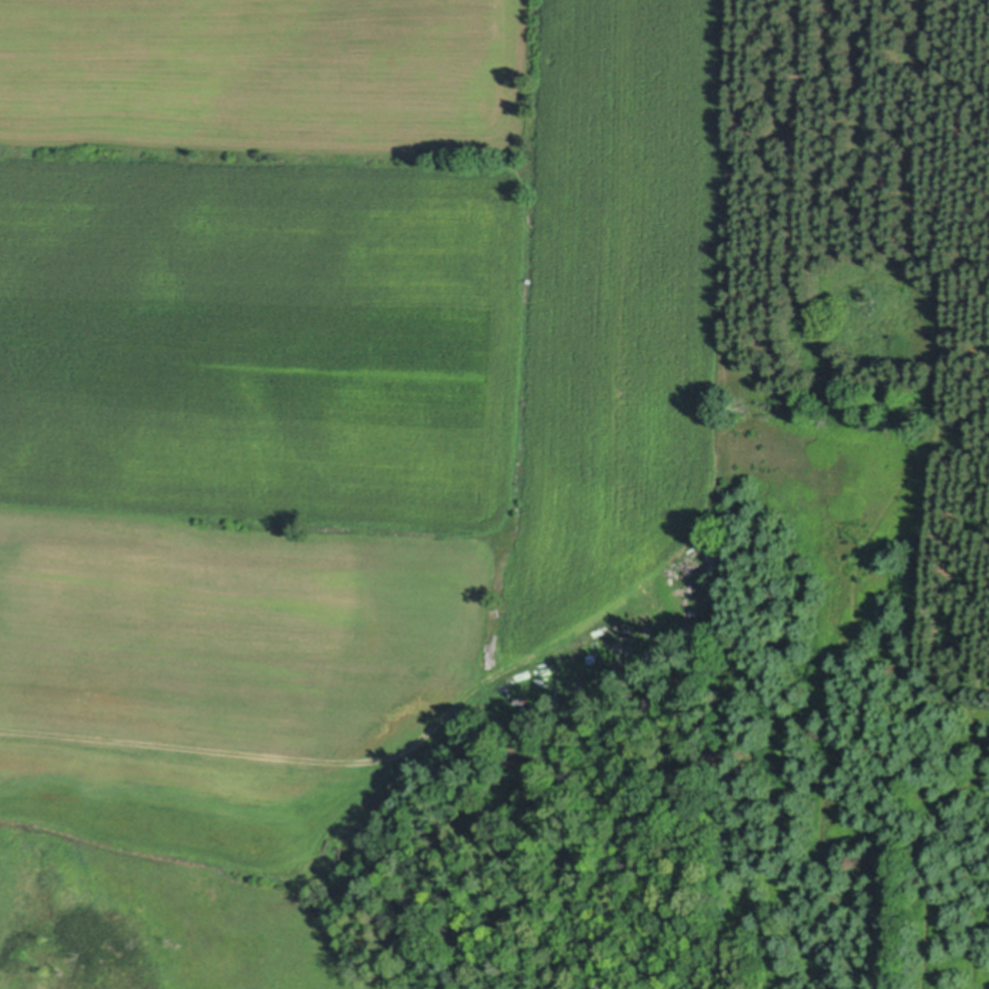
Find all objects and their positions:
building: (711, 520)
building: (707, 536)
building: (595, 657)
building: (520, 699)

